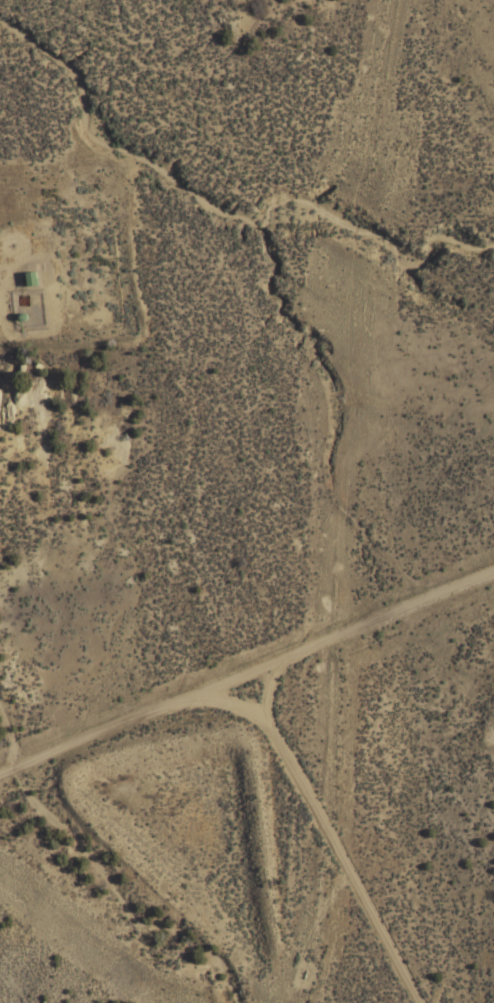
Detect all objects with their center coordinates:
building: (30, 279)
road: (352, 641)
road: (244, 755)

